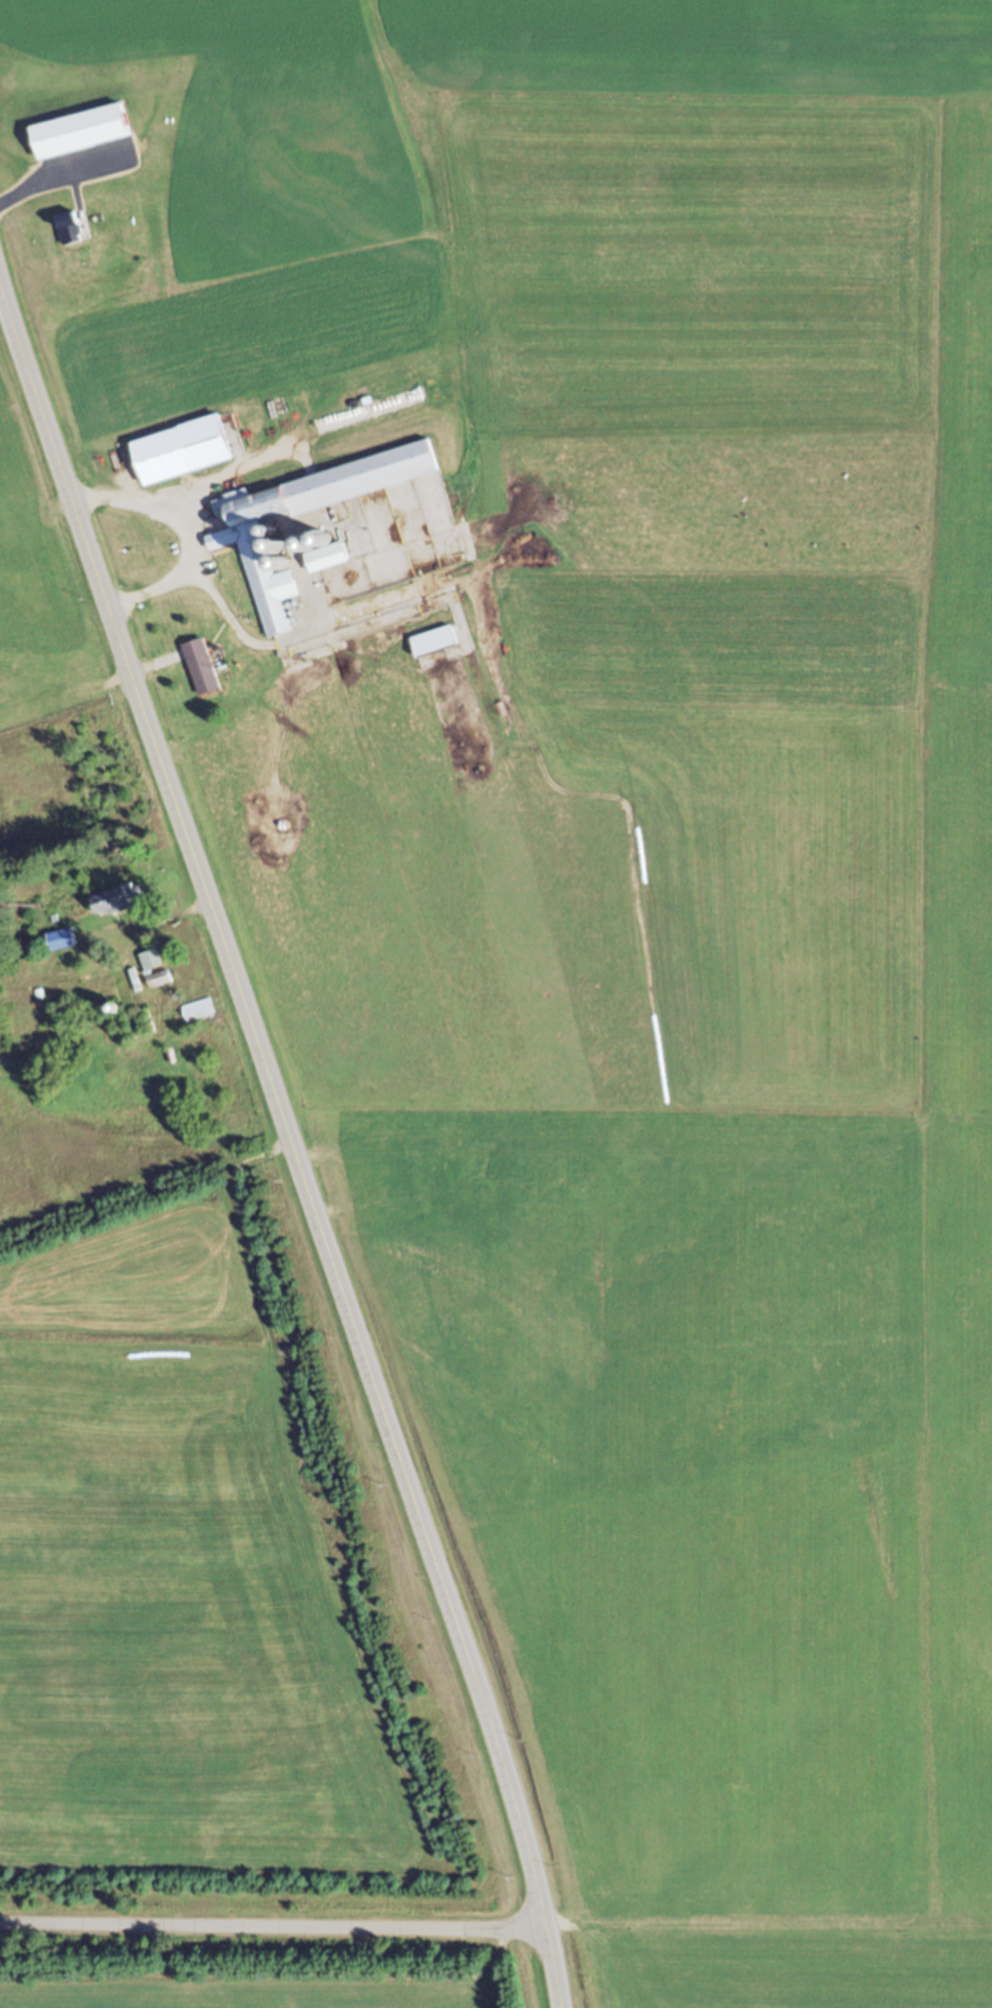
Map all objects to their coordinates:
building: (87, 139)
building: (75, 235)
building: (188, 457)
building: (238, 546)
building: (332, 560)
building: (440, 647)
building: (205, 674)
building: (119, 907)
building: (154, 966)
building: (202, 1017)
road: (288, 1145)
building: (431, 1234)
road: (274, 1923)

